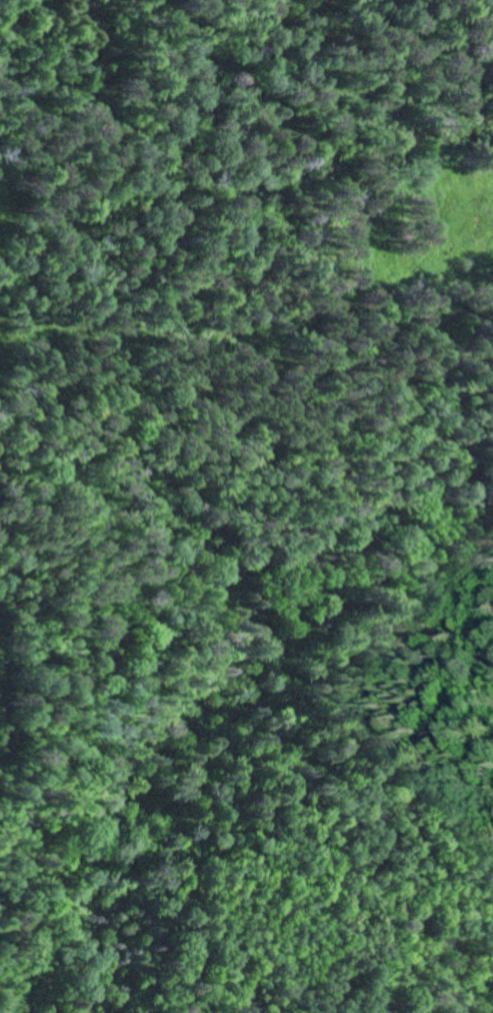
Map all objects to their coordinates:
crop: (3, 257)

